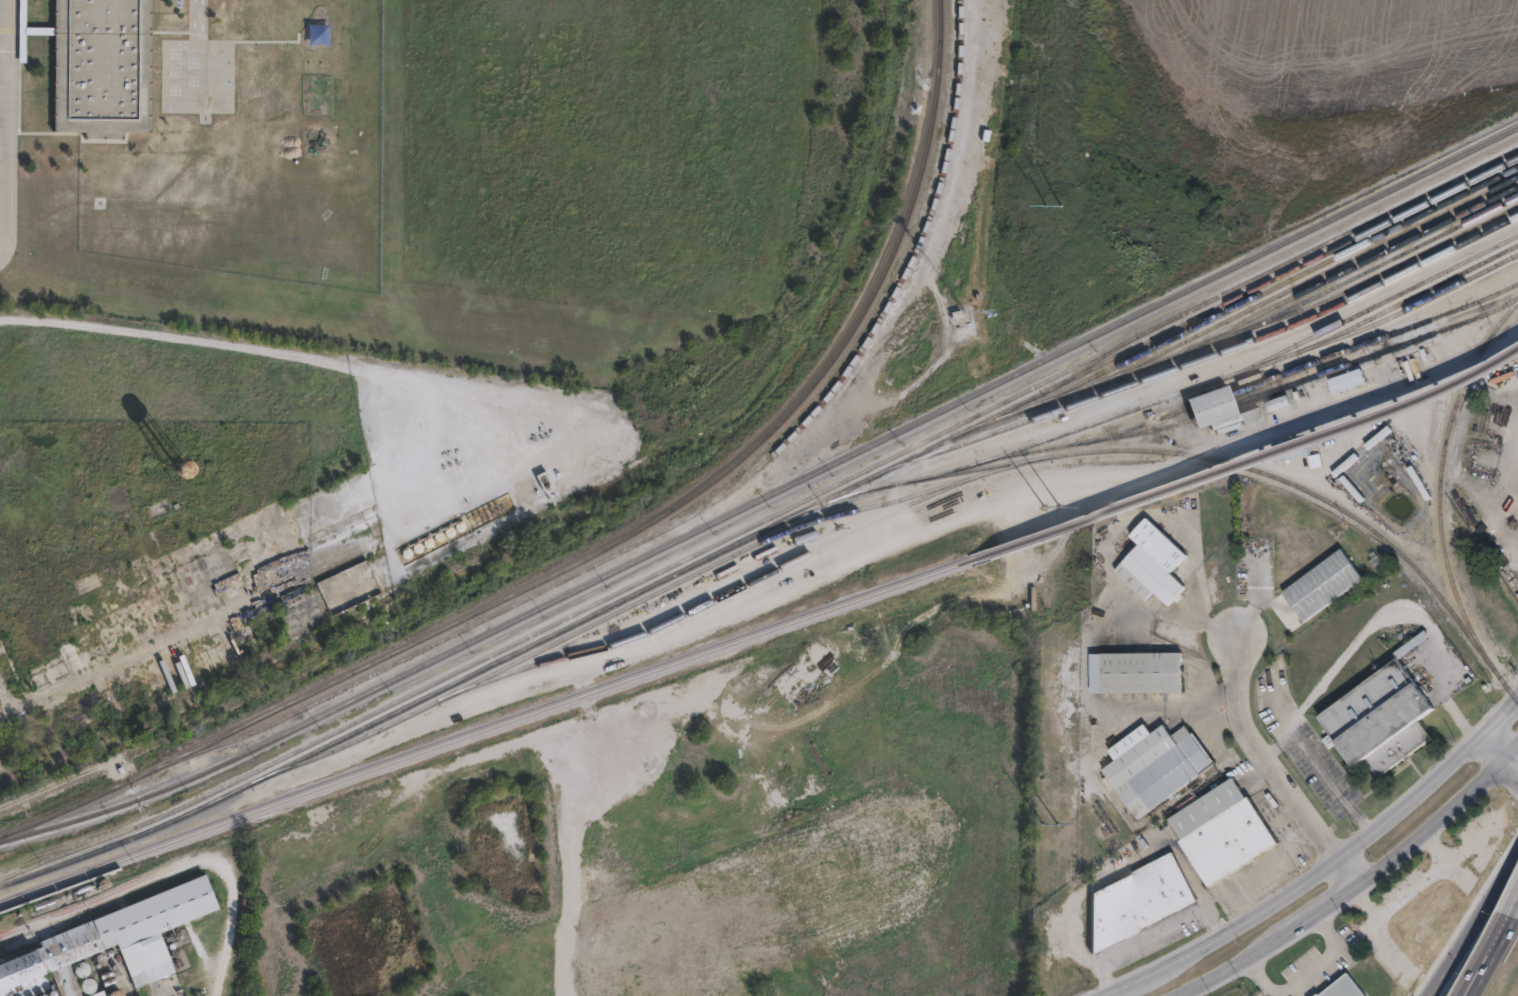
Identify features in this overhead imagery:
road: (205, 14)
building: (320, 26)
building: (105, 66)
road: (12, 127)
power tower: (1056, 186)
road: (5, 188)
railway: (1382, 272)
railway: (1307, 279)
railway: (1344, 281)
railway: (1407, 298)
railway: (1239, 303)
railway: (1370, 306)
railway: (1272, 307)
railway: (1197, 358)
railway: (1089, 365)
railway: (1299, 366)
railway: (1219, 377)
building: (1347, 379)
railway: (1258, 394)
building: (1278, 403)
building: (1211, 405)
building: (1248, 413)
building: (1376, 438)
building: (1291, 450)
railway: (1179, 453)
building: (1344, 465)
building: (176, 468)
railway: (1440, 480)
power tower: (1053, 486)
building: (1140, 486)
railway: (763, 496)
railway: (703, 507)
railway: (1098, 516)
railway: (761, 519)
railway: (762, 529)
railway: (608, 542)
building: (1151, 564)
building: (1328, 583)
railway: (744, 586)
building: (330, 589)
railway: (610, 614)
building: (1134, 670)
railway: (1504, 685)
railway: (1512, 694)
road: (1446, 702)
railway: (145, 714)
building: (1381, 715)
building: (1083, 732)
road: (1504, 740)
power tower: (1051, 761)
road: (1498, 761)
road: (1320, 765)
building: (1156, 768)
road: (1269, 769)
railway: (334, 780)
building: (1223, 831)
road: (1513, 857)
road: (1513, 865)
road: (1325, 868)
road: (1259, 870)
road: (1353, 884)
road: (1516, 897)
building: (1138, 899)
building: (1442, 918)
road: (1465, 931)
building: (115, 935)
road: (1151, 937)
road: (1489, 948)
building: (1345, 987)
building: (96, 993)
building: (139, 995)

